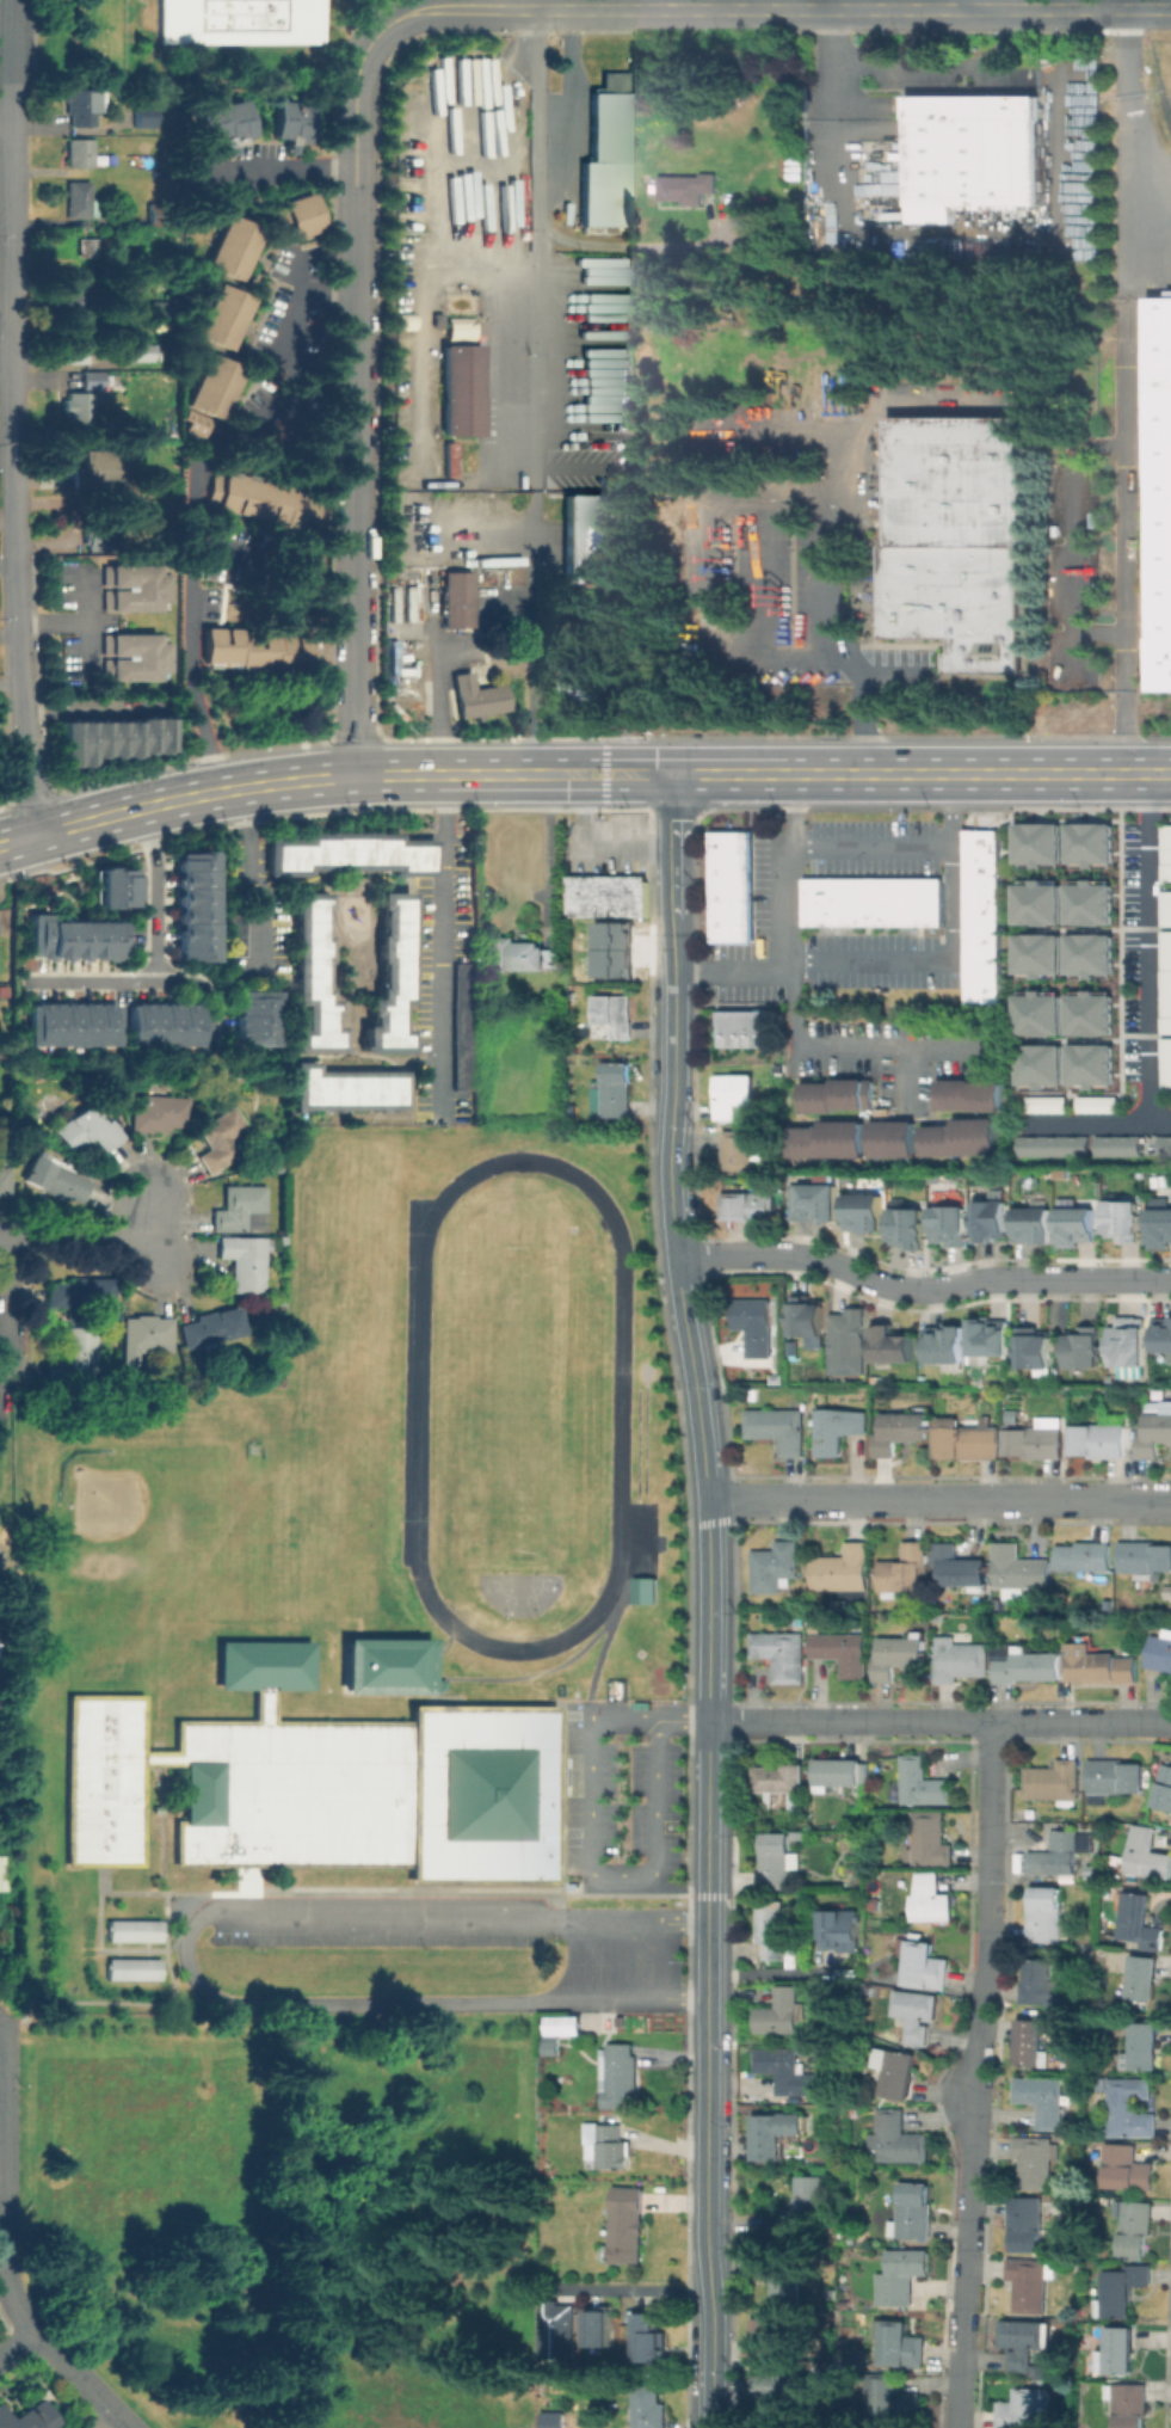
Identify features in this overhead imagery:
road: (960, 4)
road: (625, 5)
road: (806, 10)
road: (372, 14)
building: (239, 20)
road: (10, 61)
road: (919, 67)
road: (358, 70)
road: (569, 100)
railway: (1167, 102)
building: (85, 104)
building: (144, 115)
road: (5, 122)
building: (292, 122)
building: (222, 127)
road: (537, 130)
building: (80, 152)
building: (982, 152)
building: (604, 154)
road: (1130, 154)
road: (277, 166)
road: (1148, 177)
building: (682, 190)
building: (80, 199)
building: (298, 216)
road: (629, 245)
building: (92, 246)
building: (234, 246)
building: (70, 262)
road: (10, 281)
building: (75, 293)
building: (1170, 293)
building: (222, 315)
building: (460, 330)
building: (74, 338)
road: (5, 339)
building: (142, 354)
building: (95, 380)
building: (214, 387)
building: (461, 389)
building: (82, 414)
building: (627, 441)
building: (446, 459)
building: (100, 471)
road: (353, 480)
building: (962, 480)
road: (11, 491)
road: (192, 492)
building: (1160, 492)
road: (1130, 496)
road: (846, 499)
building: (264, 500)
building: (138, 508)
road: (537, 512)
building: (94, 539)
road: (1078, 540)
building: (604, 541)
road: (242, 548)
building: (132, 586)
building: (456, 598)
building: (957, 601)
road: (836, 645)
building: (257, 649)
building: (132, 657)
building: (583, 686)
road: (18, 689)
building: (475, 696)
road: (442, 699)
road: (1129, 733)
building: (112, 738)
road: (581, 774)
building: (1037, 843)
road: (873, 844)
building: (1092, 844)
building: (351, 853)
building: (1167, 854)
road: (246, 873)
building: (113, 886)
building: (729, 886)
building: (608, 896)
building: (871, 902)
building: (1041, 903)
building: (1092, 903)
building: (191, 905)
building: (1167, 909)
building: (980, 915)
building: (235, 934)
building: (70, 938)
road: (443, 945)
road: (1147, 947)
road: (148, 949)
building: (514, 954)
building: (1092, 957)
building: (1041, 958)
road: (873, 965)
road: (732, 966)
building: (392, 976)
building: (313, 978)
road: (196, 983)
building: (1167, 984)
building: (1041, 1014)
building: (1092, 1014)
building: (615, 1015)
building: (252, 1016)
building: (69, 1024)
building: (160, 1024)
building: (462, 1025)
building: (741, 1028)
road: (849, 1049)
building: (1167, 1063)
building: (1042, 1067)
building: (1093, 1069)
road: (910, 1076)
building: (614, 1089)
building: (347, 1092)
building: (735, 1094)
building: (840, 1096)
building: (973, 1096)
building: (1049, 1105)
building: (1098, 1105)
building: (161, 1114)
road: (1098, 1120)
building: (88, 1127)
building: (221, 1137)
building: (964, 1137)
building: (831, 1138)
building: (896, 1138)
building: (1055, 1145)
building: (1120, 1145)
building: (1166, 1147)
building: (741, 1149)
building: (56, 1174)
building: (4, 1180)
building: (754, 1204)
building: (816, 1204)
building: (239, 1206)
building: (867, 1213)
building: (993, 1221)
building: (1126, 1221)
building: (1036, 1225)
building: (953, 1227)
building: (1079, 1227)
building: (910, 1229)
building: (1163, 1229)
road: (92, 1240)
road: (149, 1253)
building: (245, 1260)
building: (80, 1291)
road: (920, 1292)
building: (809, 1316)
building: (756, 1323)
building: (212, 1326)
road: (8, 1332)
building: (144, 1334)
building: (1164, 1334)
building: (988, 1335)
building: (895, 1341)
building: (1127, 1341)
building: (850, 1342)
building: (948, 1345)
building: (1035, 1347)
building: (1085, 1347)
building: (75, 1354)
building: (781, 1378)
track: (414, 1383)
park: (517, 1401)
building: (1012, 1414)
building: (779, 1427)
building: (839, 1428)
building: (901, 1430)
building: (1154, 1431)
building: (967, 1439)
building: (1035, 1439)
building: (1098, 1440)
road: (939, 1498)
park: (146, 1530)
building: (1085, 1557)
building: (1145, 1557)
building: (775, 1566)
building: (960, 1567)
building: (842, 1568)
building: (1019, 1568)
building: (905, 1569)
building: (646, 1588)
park: (517, 1591)
building: (1169, 1591)
road: (709, 1599)
building: (816, 1627)
building: (843, 1651)
building: (1160, 1651)
building: (782, 1654)
building: (899, 1654)
building: (960, 1659)
building: (389, 1665)
building: (1101, 1665)
building: (263, 1666)
building: (1029, 1667)
road: (683, 1719)
road: (941, 1720)
building: (840, 1772)
building: (1114, 1777)
building: (781, 1778)
building: (923, 1782)
building: (1054, 1782)
building: (1164, 1788)
building: (240, 1790)
building: (483, 1794)
building: (797, 1800)
parking lot: (622, 1812)
building: (800, 1834)
building: (930, 1839)
building: (1091, 1839)
building: (1058, 1854)
building: (1147, 1854)
building: (777, 1860)
road: (594, 1868)
building: (0, 1874)
building: (931, 1898)
building: (1047, 1914)
building: (1138, 1919)
building: (840, 1928)
building: (772, 1929)
building: (136, 1931)
road: (186, 1951)
parking lot: (602, 1961)
road: (664, 1962)
building: (924, 1965)
building: (136, 1968)
building: (1142, 1977)
building: (1044, 1983)
building: (781, 2011)
building: (917, 2012)
building: (561, 2024)
road: (0, 2030)
building: (1033, 2042)
building: (1145, 2045)
building: (553, 2047)
building: (787, 2070)
building: (618, 2073)
building: (900, 2073)
road: (978, 2074)
building: (1044, 2098)
building: (1130, 2107)
building: (779, 2132)
building: (898, 2138)
building: (606, 2145)
road: (2, 2146)
building: (1036, 2157)
building: (1127, 2166)
building: (1058, 2203)
building: (803, 2206)
building: (913, 2211)
park: (291, 2213)
building: (1027, 2223)
building: (627, 2224)
building: (1136, 2227)
building: (781, 2274)
building: (902, 2275)
building: (1030, 2282)
road: (640, 2288)
building: (1122, 2288)
road: (11, 2298)
building: (560, 2326)
building: (653, 2336)
building: (770, 2337)
road: (17, 2340)
building: (1023, 2341)
building: (901, 2344)
building: (1118, 2352)
building: (824, 2377)
road: (81, 2378)
building: (781, 2390)
building: (892, 2401)
building: (1130, 2404)
building: (646, 2407)
building: (1025, 2409)
building: (27, 2416)
building: (554, 2418)

